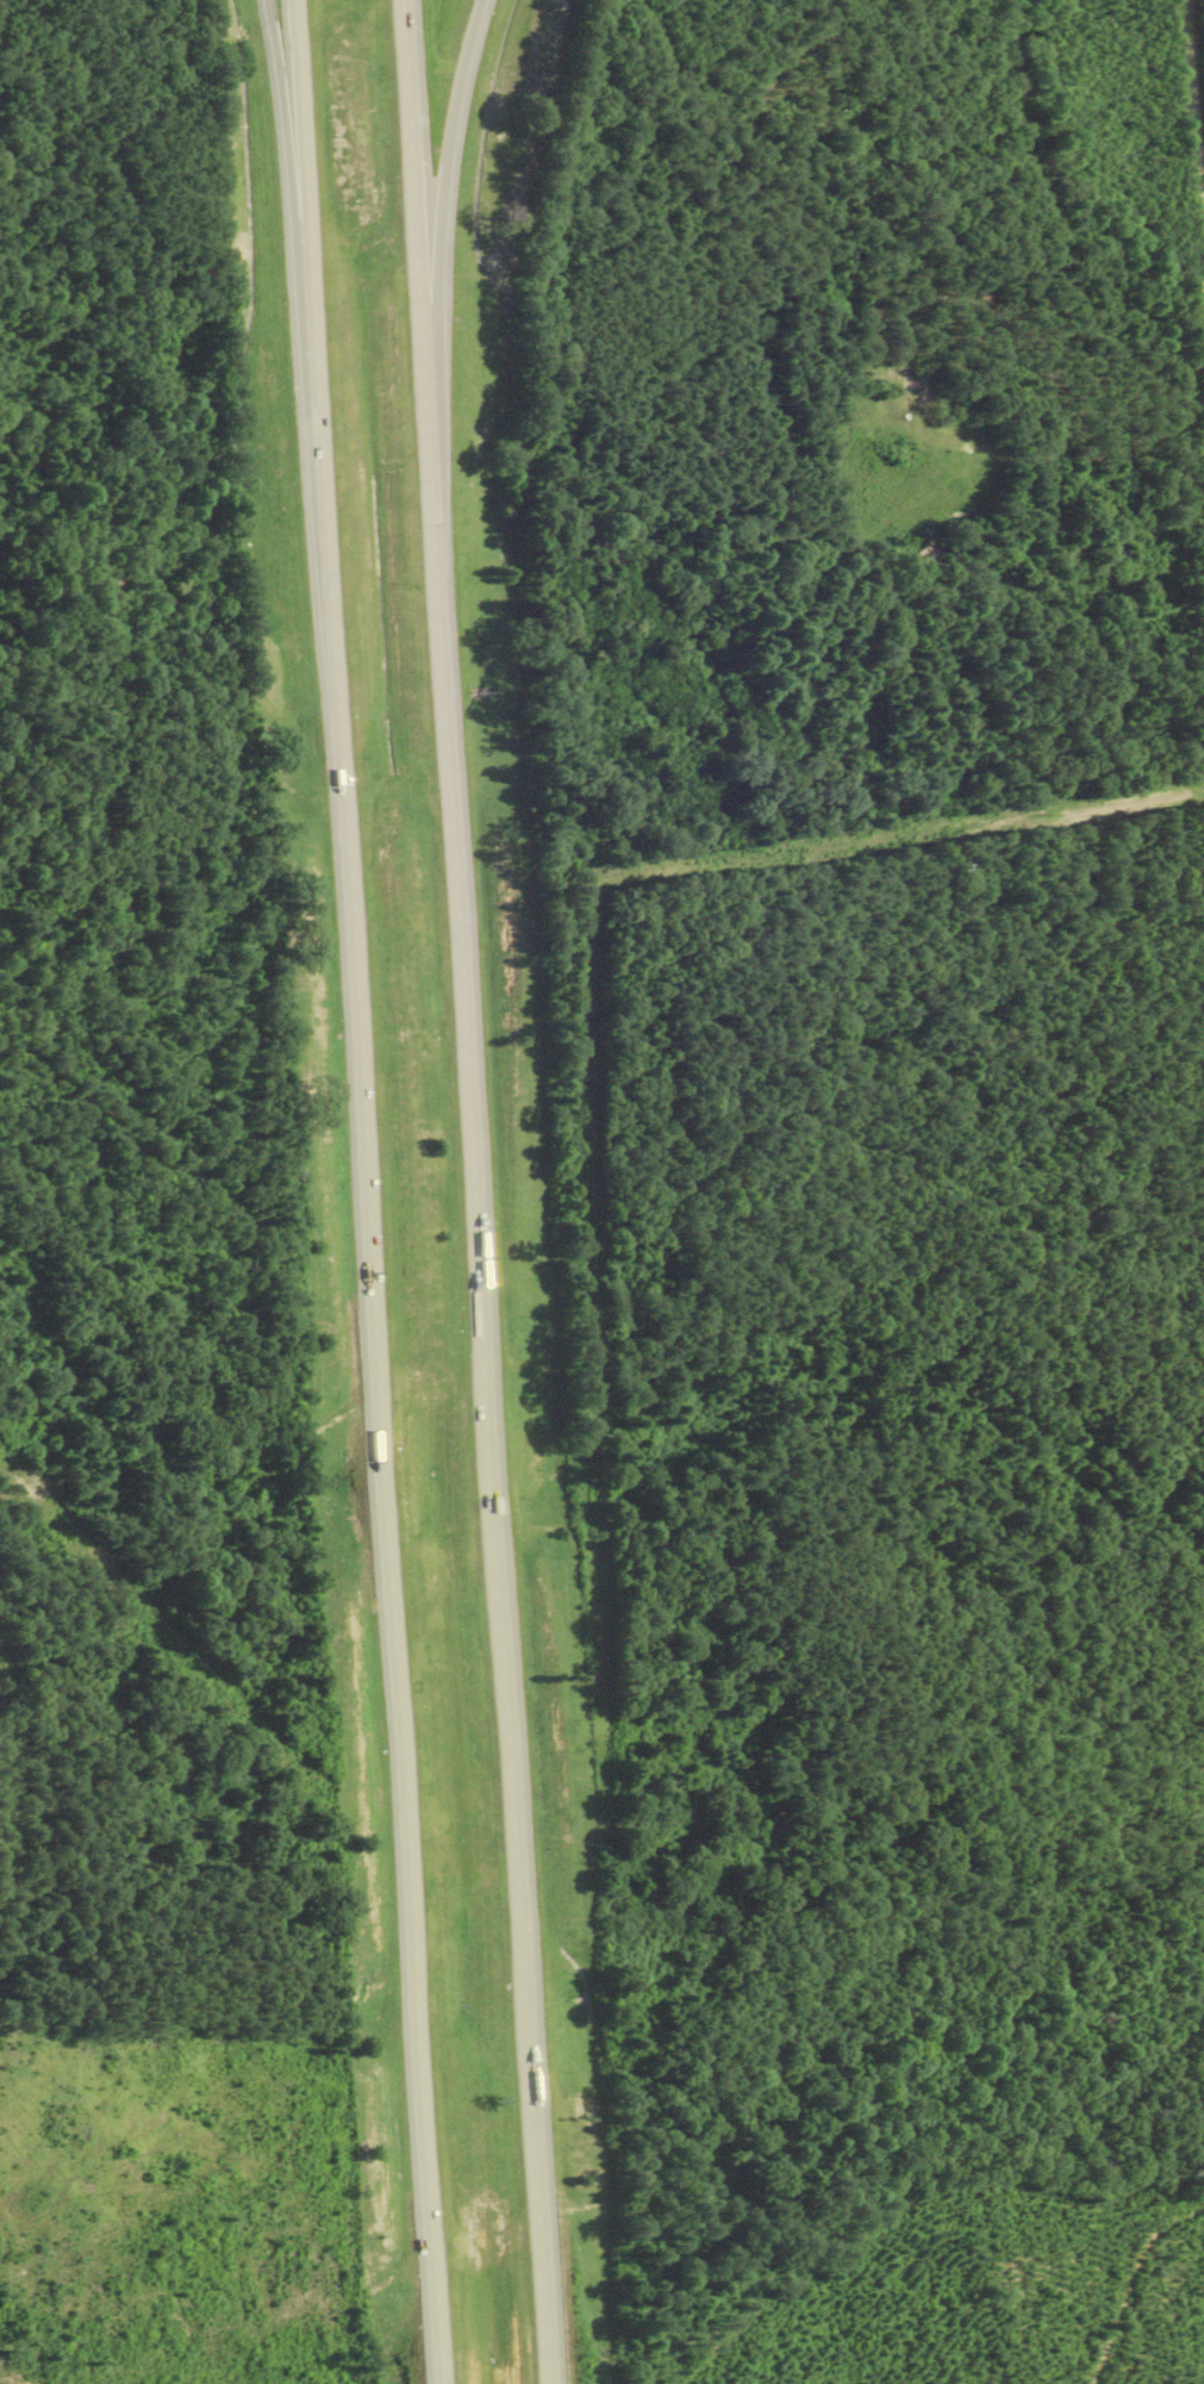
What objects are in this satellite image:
road: (1196, 98)
road: (292, 138)
road: (447, 181)
road: (416, 183)
road: (467, 1008)
road: (372, 1191)
road: (529, 2017)

